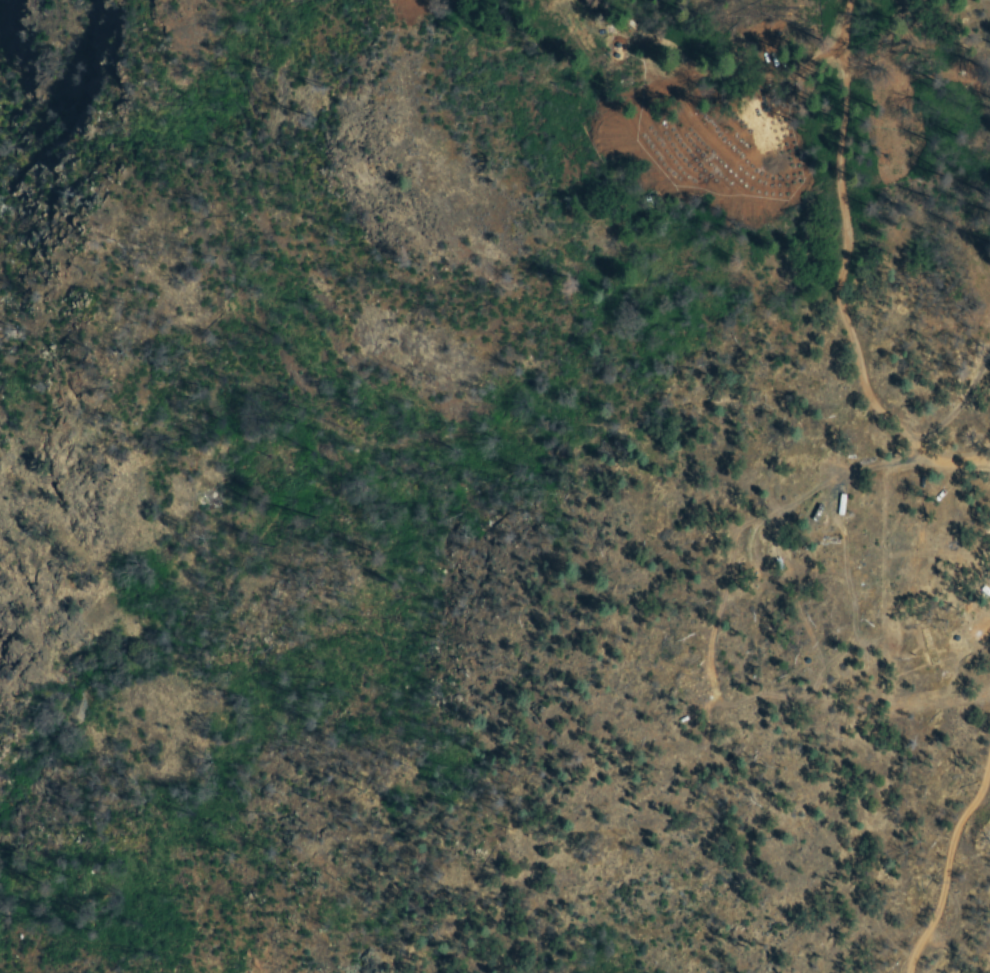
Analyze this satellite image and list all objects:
road: (974, 224)
road: (945, 861)

